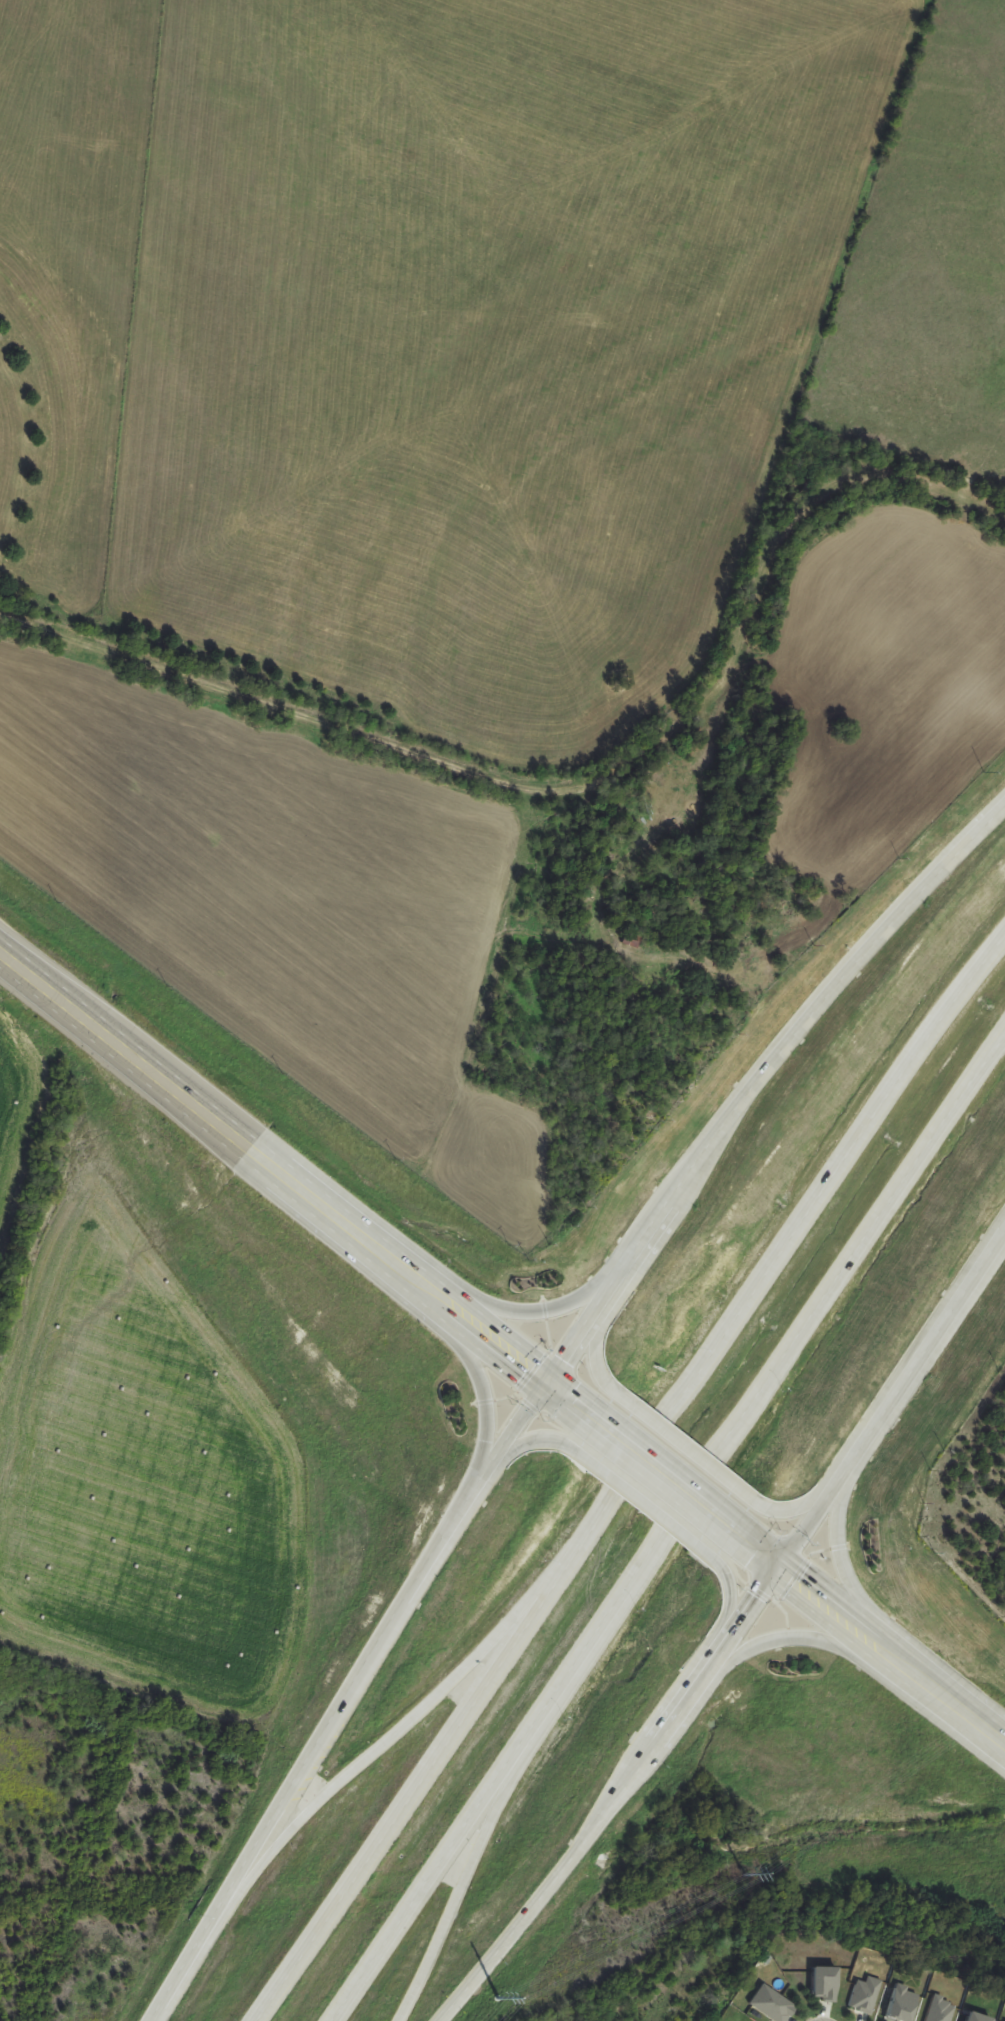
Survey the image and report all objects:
road: (984, 1065)
road: (755, 1075)
road: (211, 1119)
road: (539, 1310)
road: (486, 1333)
road: (595, 1345)
traffic signals: (547, 1381)
road: (478, 1383)
road: (891, 1397)
road: (571, 1401)
road: (508, 1436)
road: (529, 1441)
road: (683, 1446)
road: (627, 1475)
road: (663, 1475)
road: (811, 1497)
road: (634, 1500)
road: (754, 1548)
road: (645, 1553)
road: (840, 1559)
traffic signals: (777, 1566)
road: (728, 1599)
road: (739, 1618)
road: (795, 1638)
road: (890, 1656)
road: (427, 1702)
road: (309, 1754)
road: (505, 1791)
road: (576, 1852)
power tower: (740, 1876)

